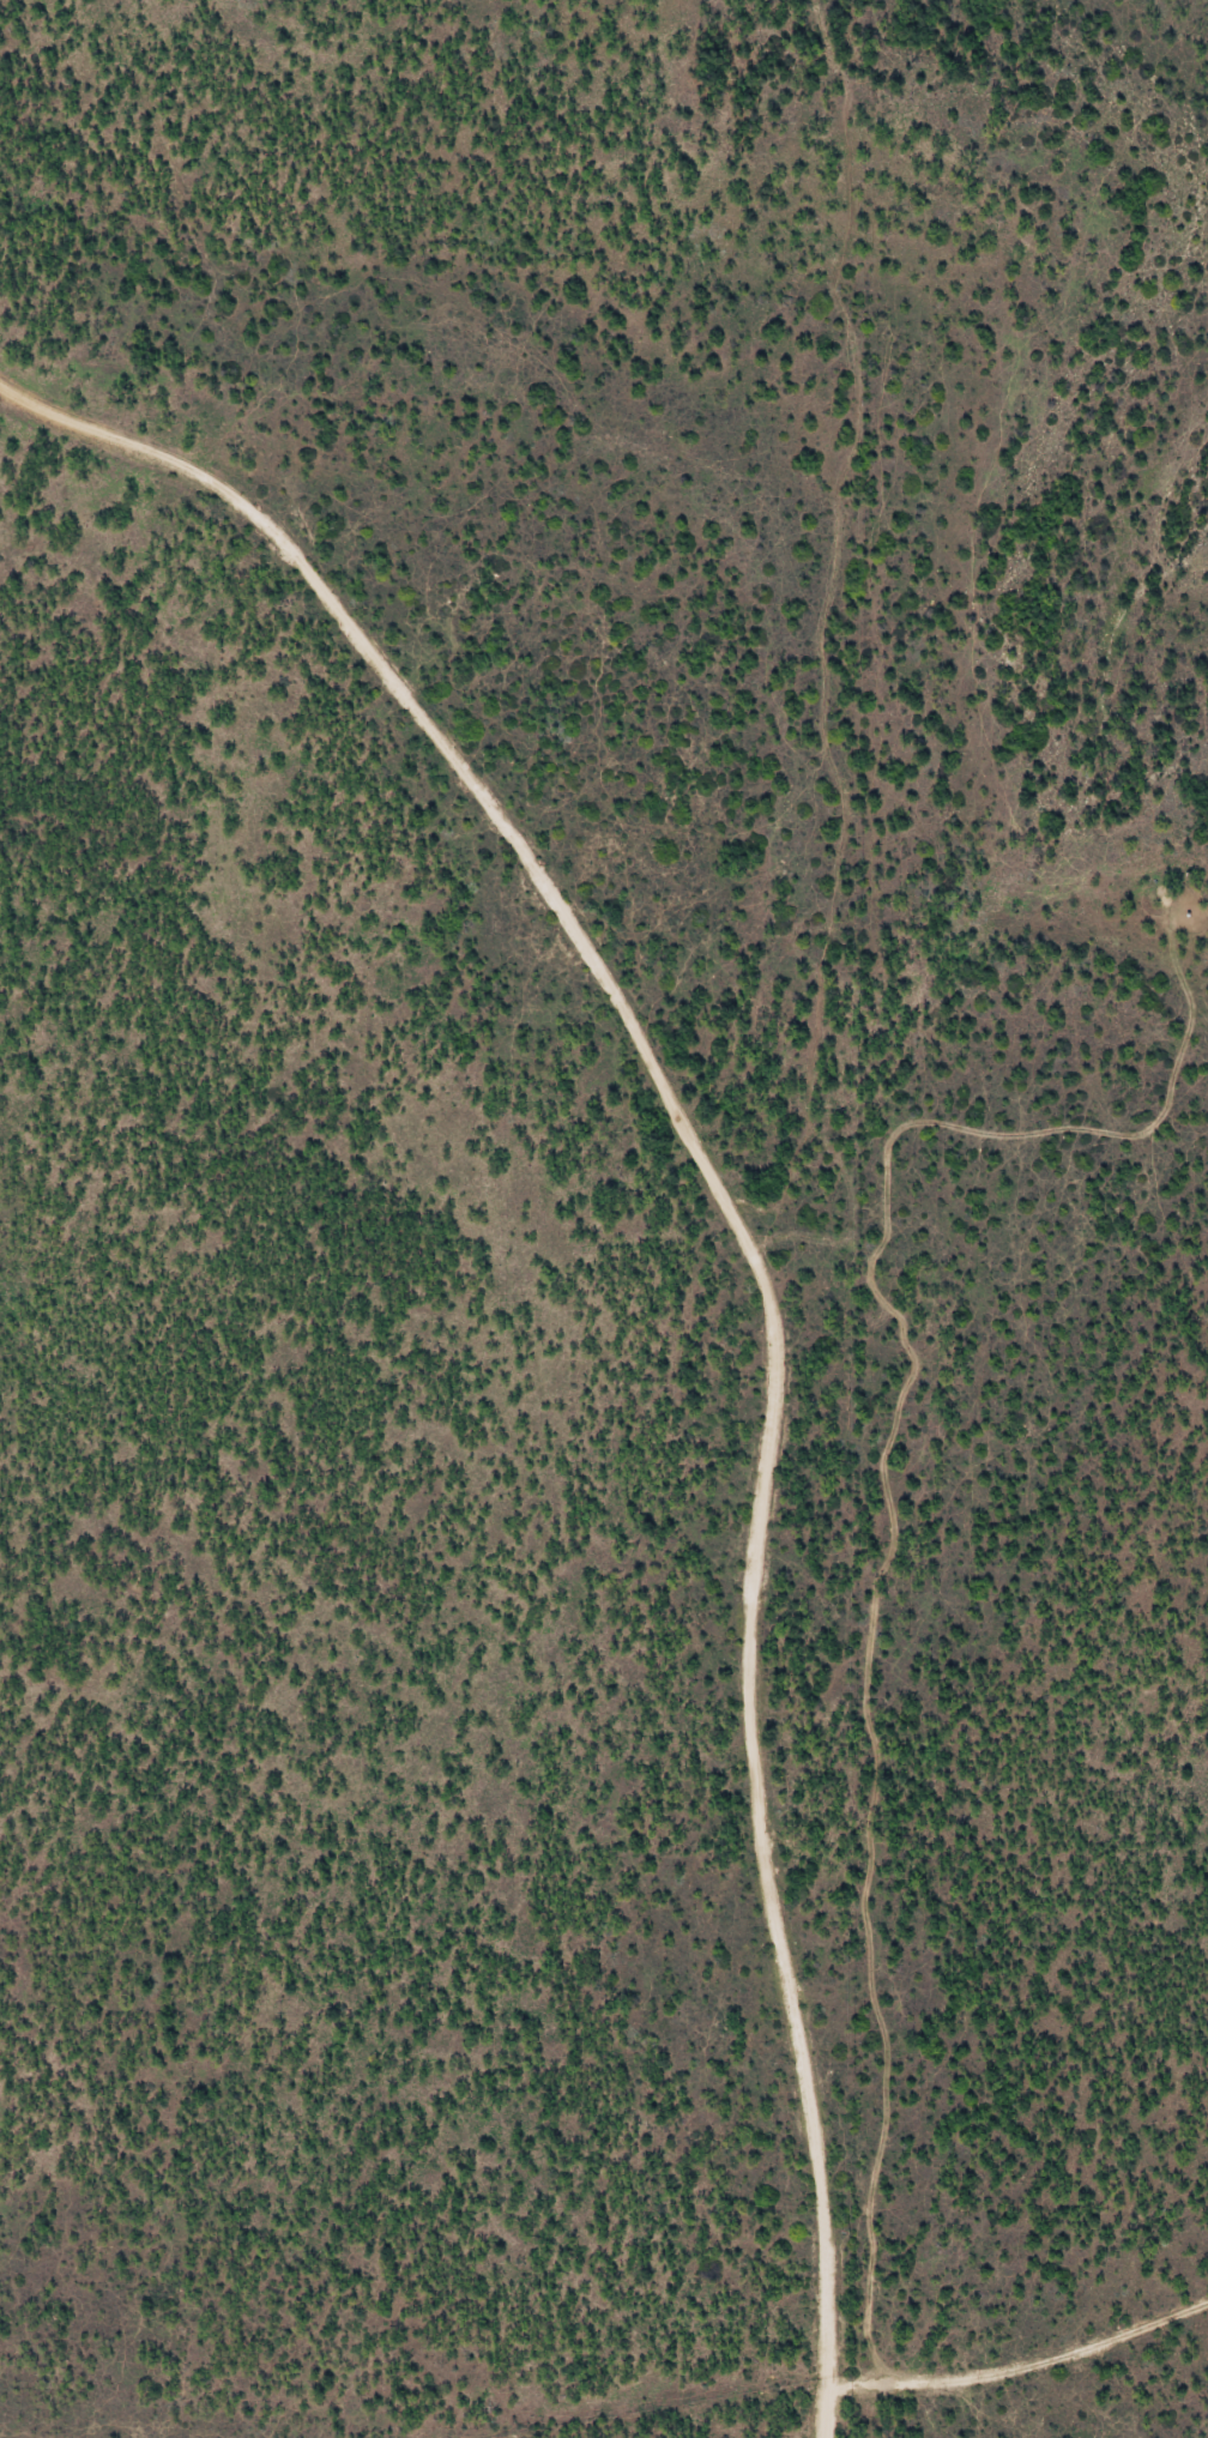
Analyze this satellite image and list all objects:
road: (755, 1260)
road: (1020, 2358)

